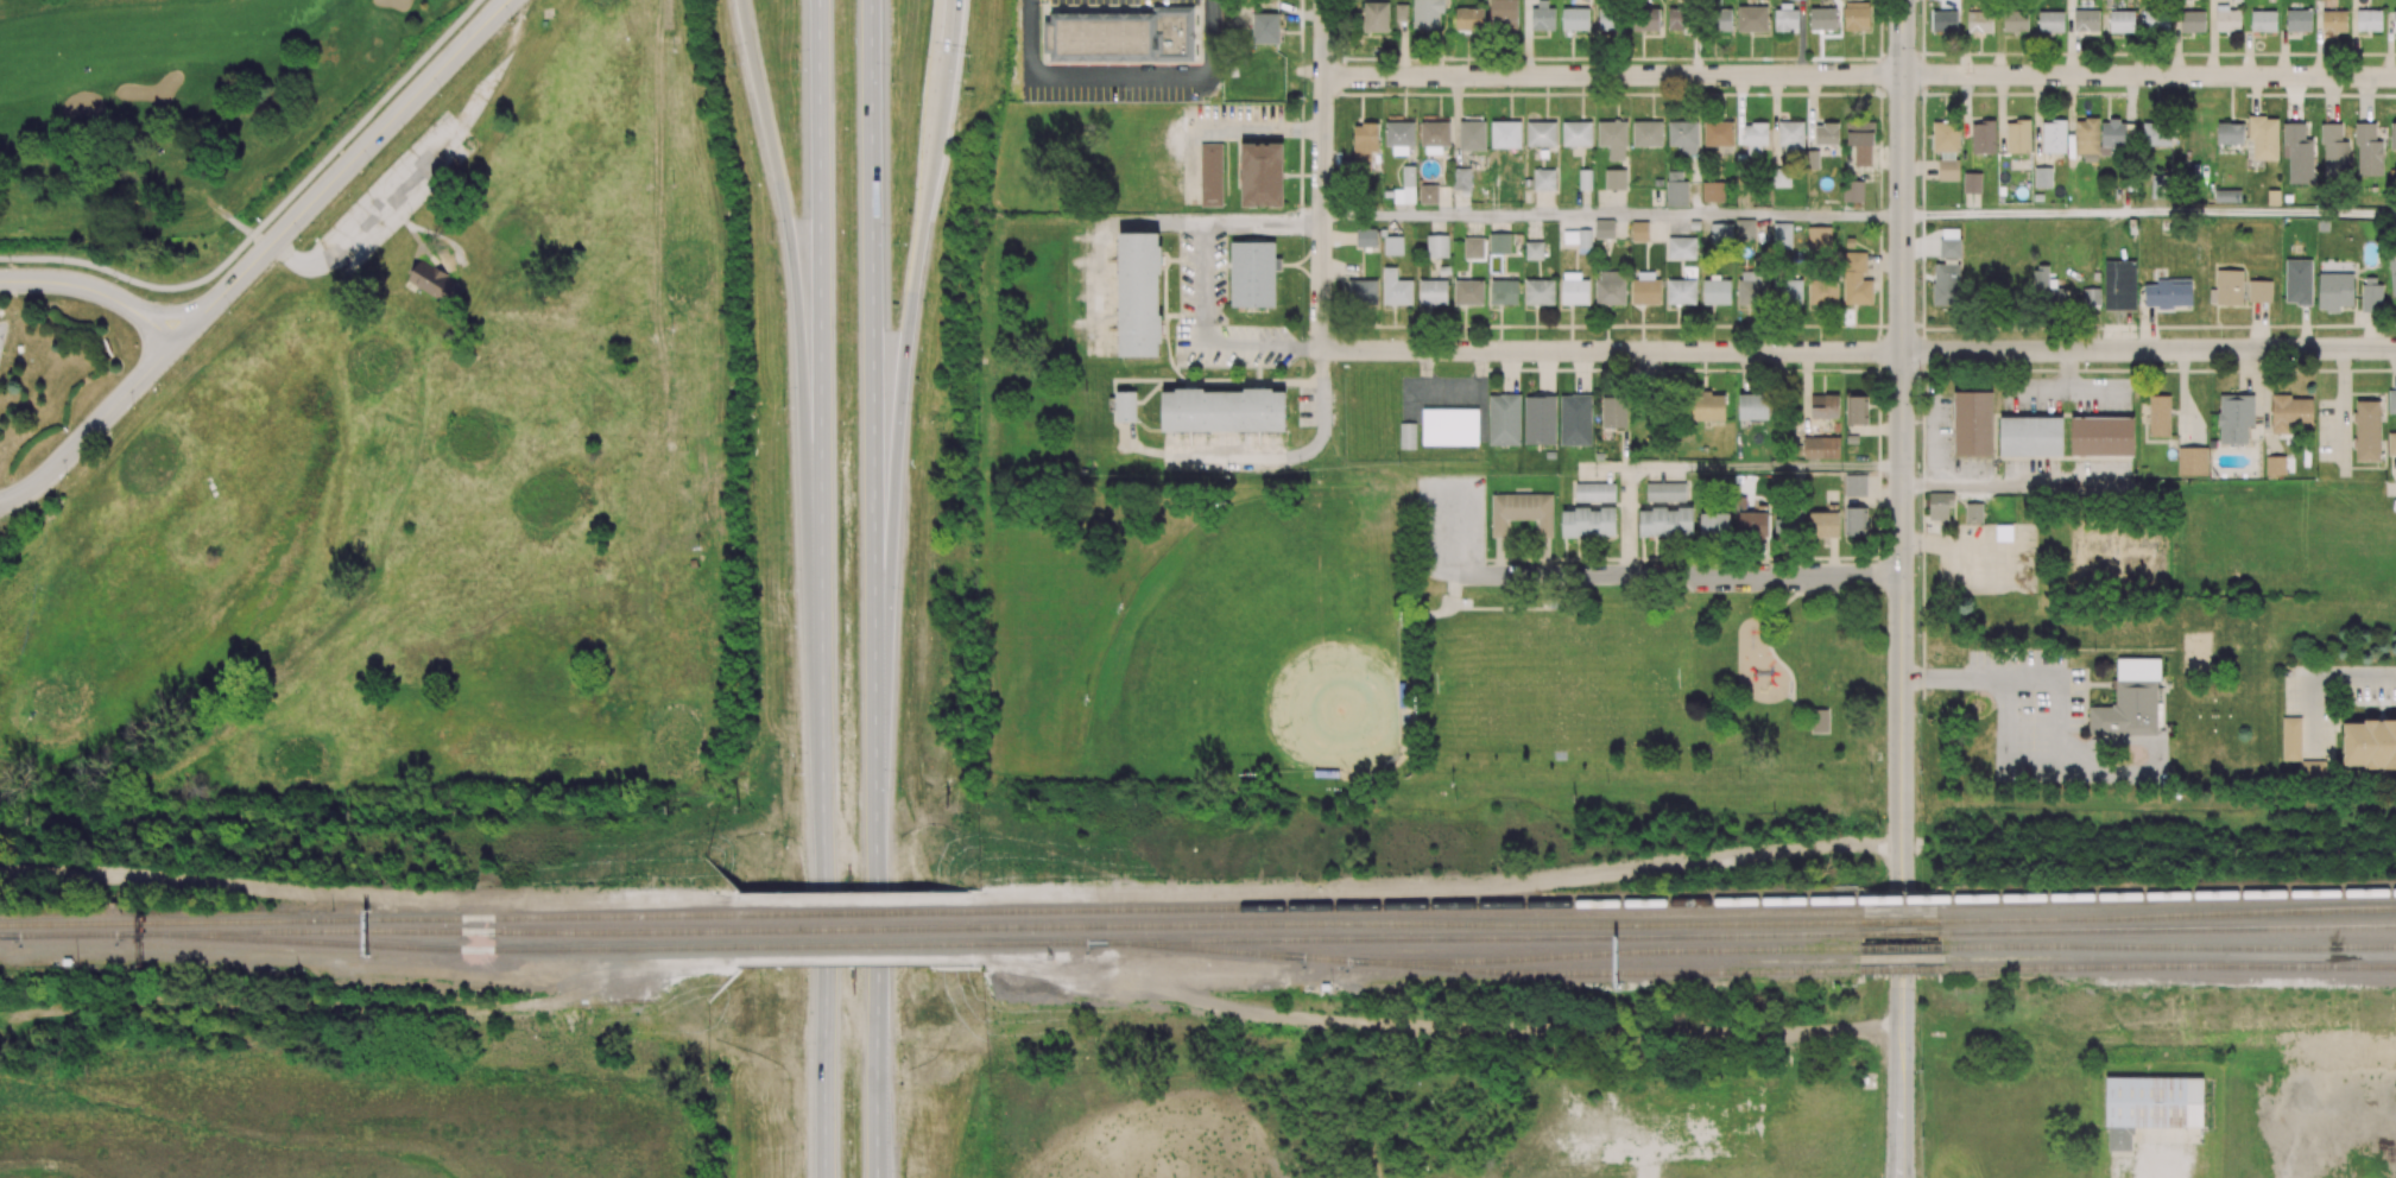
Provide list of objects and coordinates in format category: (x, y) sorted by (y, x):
road: (949, 21)
building: (548, 25)
building: (1121, 37)
street lamp: (733, 65)
street lamp: (798, 70)
street lamp: (968, 70)
road: (1613, 76)
road: (2149, 76)
road: (495, 77)
street lamp: (896, 84)
street lamp: (441, 94)
park: (173, 103)
road: (365, 116)
road: (1258, 129)
street lamp: (371, 167)
road: (1323, 175)
road: (140, 192)
road: (398, 194)
parking lot: (399, 194)
road: (1613, 216)
road: (2149, 216)
road: (1100, 229)
street lamp: (299, 239)
street lamp: (771, 241)
street lamp: (898, 243)
road: (259, 258)
street lamp: (10, 264)
road: (299, 265)
street lamp: (115, 279)
road: (133, 280)
road: (1201, 280)
building: (432, 281)
road: (96, 289)
street lamp: (229, 310)
road: (173, 312)
road: (799, 323)
parking lot: (4, 335)
building: (20, 348)
road: (2149, 349)
road: (1612, 351)
street lamp: (5, 354)
road: (873, 385)
road: (902, 405)
street lamp: (133, 407)
street lamp: (784, 407)
street lamp: (918, 422)
road: (1291, 451)
road: (1765, 468)
road: (1604, 469)
street lamp: (67, 477)
park: (426, 479)
road: (1447, 484)
road: (2010, 484)
building: (1942, 508)
building: (55, 513)
building: (1975, 514)
road: (1629, 521)
parking lot: (1450, 528)
road: (1929, 545)
park: (2119, 553)
parking lot: (1989, 560)
building: (694, 564)
road: (1665, 575)
road: (2029, 575)
parking lot: (1771, 584)
road: (820, 589)
road: (1902, 589)
street lamp: (789, 590)
street lamp: (908, 608)
park: (1262, 645)
park: (2199, 654)
park: (1393, 661)
road: (2319, 674)
park: (1559, 680)
road: (1954, 680)
road: (2061, 692)
building: (2132, 703)
parking lot: (2034, 715)
building: (1820, 721)
road: (2008, 746)
road: (2156, 756)
building: (1561, 758)
road: (2073, 759)
street lamp: (794, 773)
street lamp: (902, 788)
railway: (2173, 893)
road: (1442, 894)
railway: (1907, 897)
road: (860, 900)
road: (368, 902)
railway: (1422, 904)
railway: (860, 912)
railway: (2171, 914)
railway: (368, 917)
railway: (1908, 919)
railway: (1424, 924)
railway: (860, 929)
railway: (2160, 930)
railway: (368, 931)
railway: (48, 932)
railway: (1896, 933)
railway: (1424, 937)
railway: (860, 944)
railway: (2170, 944)
railway: (430, 946)
railway: (1904, 948)
railway: (1475, 958)
railway: (2170, 965)
railway: (1902, 969)
railway: (1604, 971)
road: (877, 974)
street lamp: (801, 1058)
street lamp: (902, 1058)
road: (187, 1171)

